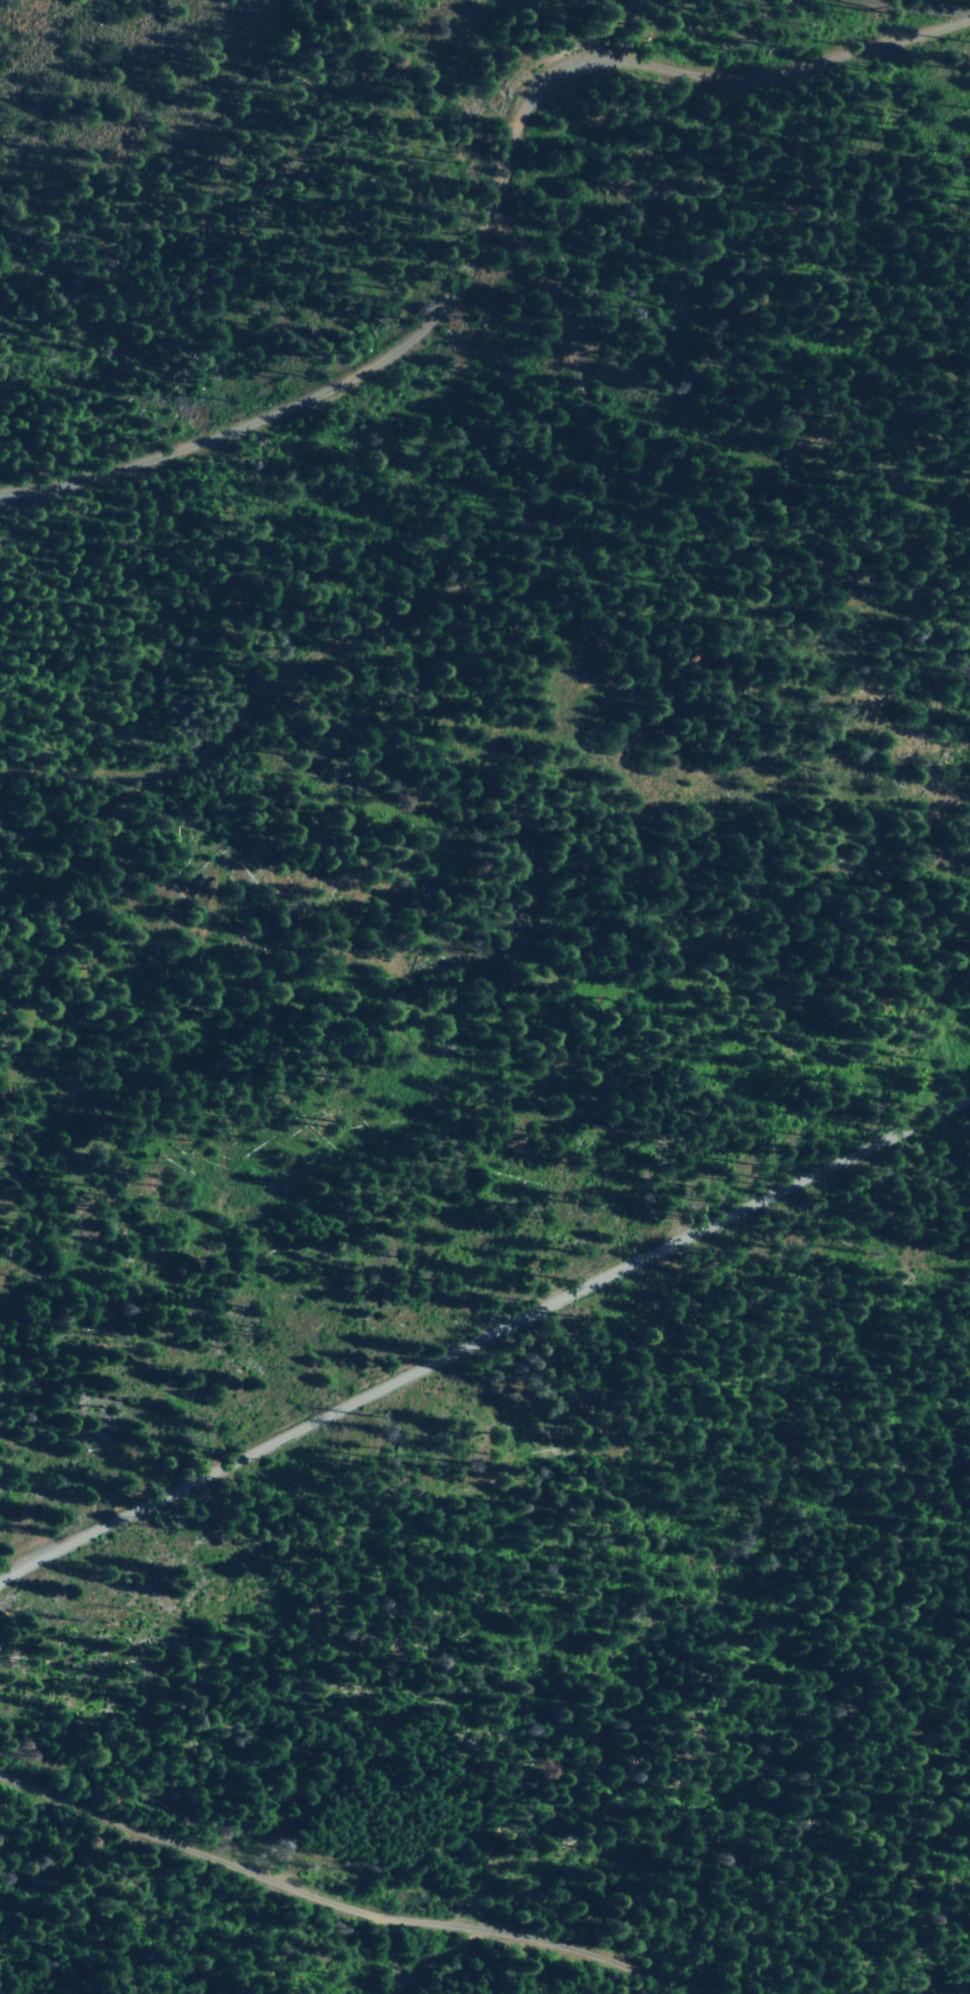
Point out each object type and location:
road: (955, 2)
road: (491, 223)
road: (423, 598)
road: (483, 1338)
road: (363, 1915)
road: (396, 1953)
road: (439, 1960)
road: (930, 1989)

